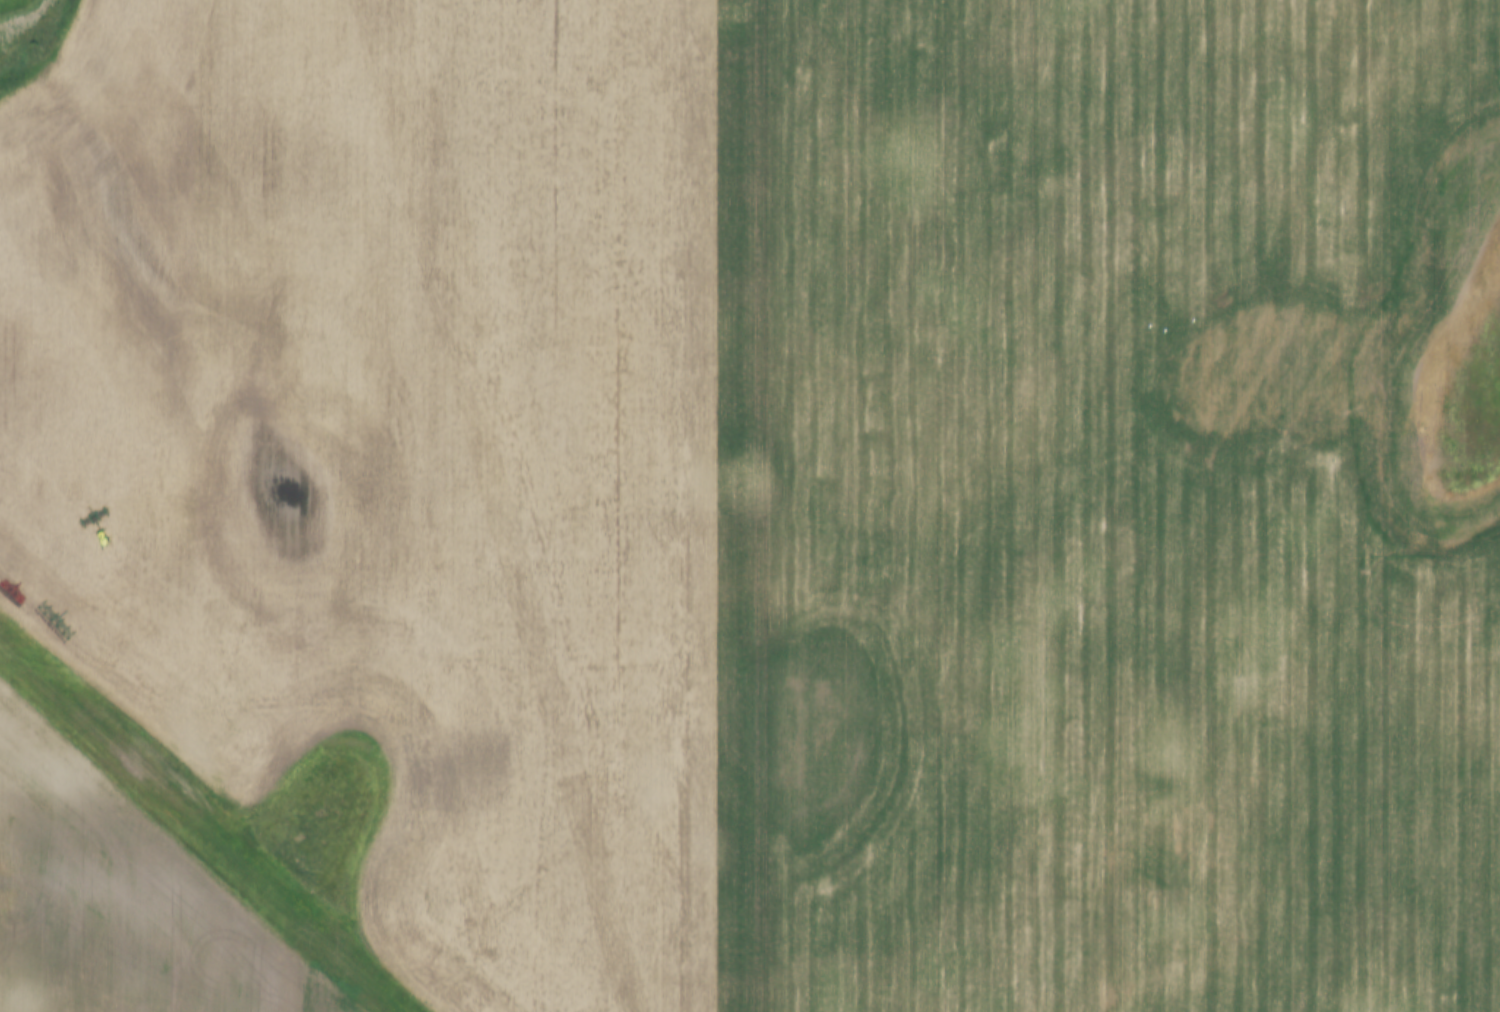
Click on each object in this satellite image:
airport runway: (199, 830)

